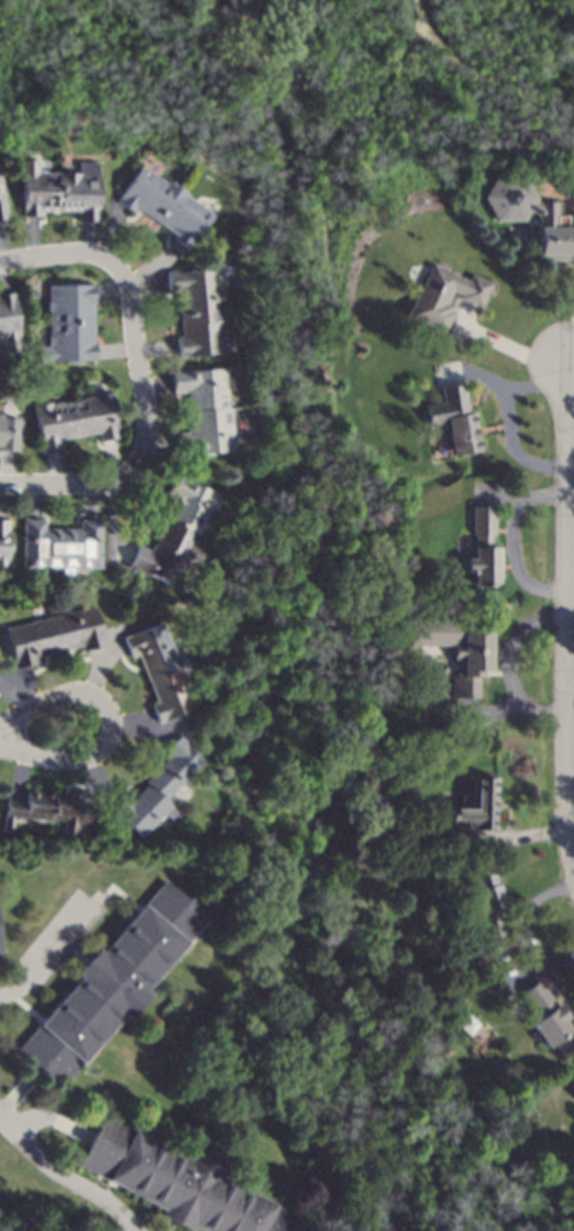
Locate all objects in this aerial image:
road: (248, 11)
road: (421, 22)
road: (380, 76)
building: (57, 190)
building: (162, 205)
building: (0, 208)
building: (508, 217)
building: (443, 295)
building: (195, 310)
building: (66, 323)
building: (7, 324)
road: (140, 373)
building: (201, 410)
building: (71, 419)
building: (454, 419)
building: (7, 432)
building: (173, 531)
building: (2, 542)
building: (58, 543)
road: (511, 543)
building: (481, 547)
road: (568, 628)
building: (51, 635)
building: (457, 649)
road: (510, 666)
building: (158, 670)
road: (570, 672)
road: (108, 723)
road: (1, 738)
road: (568, 781)
building: (156, 788)
building: (46, 808)
building: (475, 808)
building: (489, 907)
building: (0, 952)
road: (45, 956)
building: (110, 983)
building: (546, 1017)
road: (60, 1178)
building: (179, 1185)

